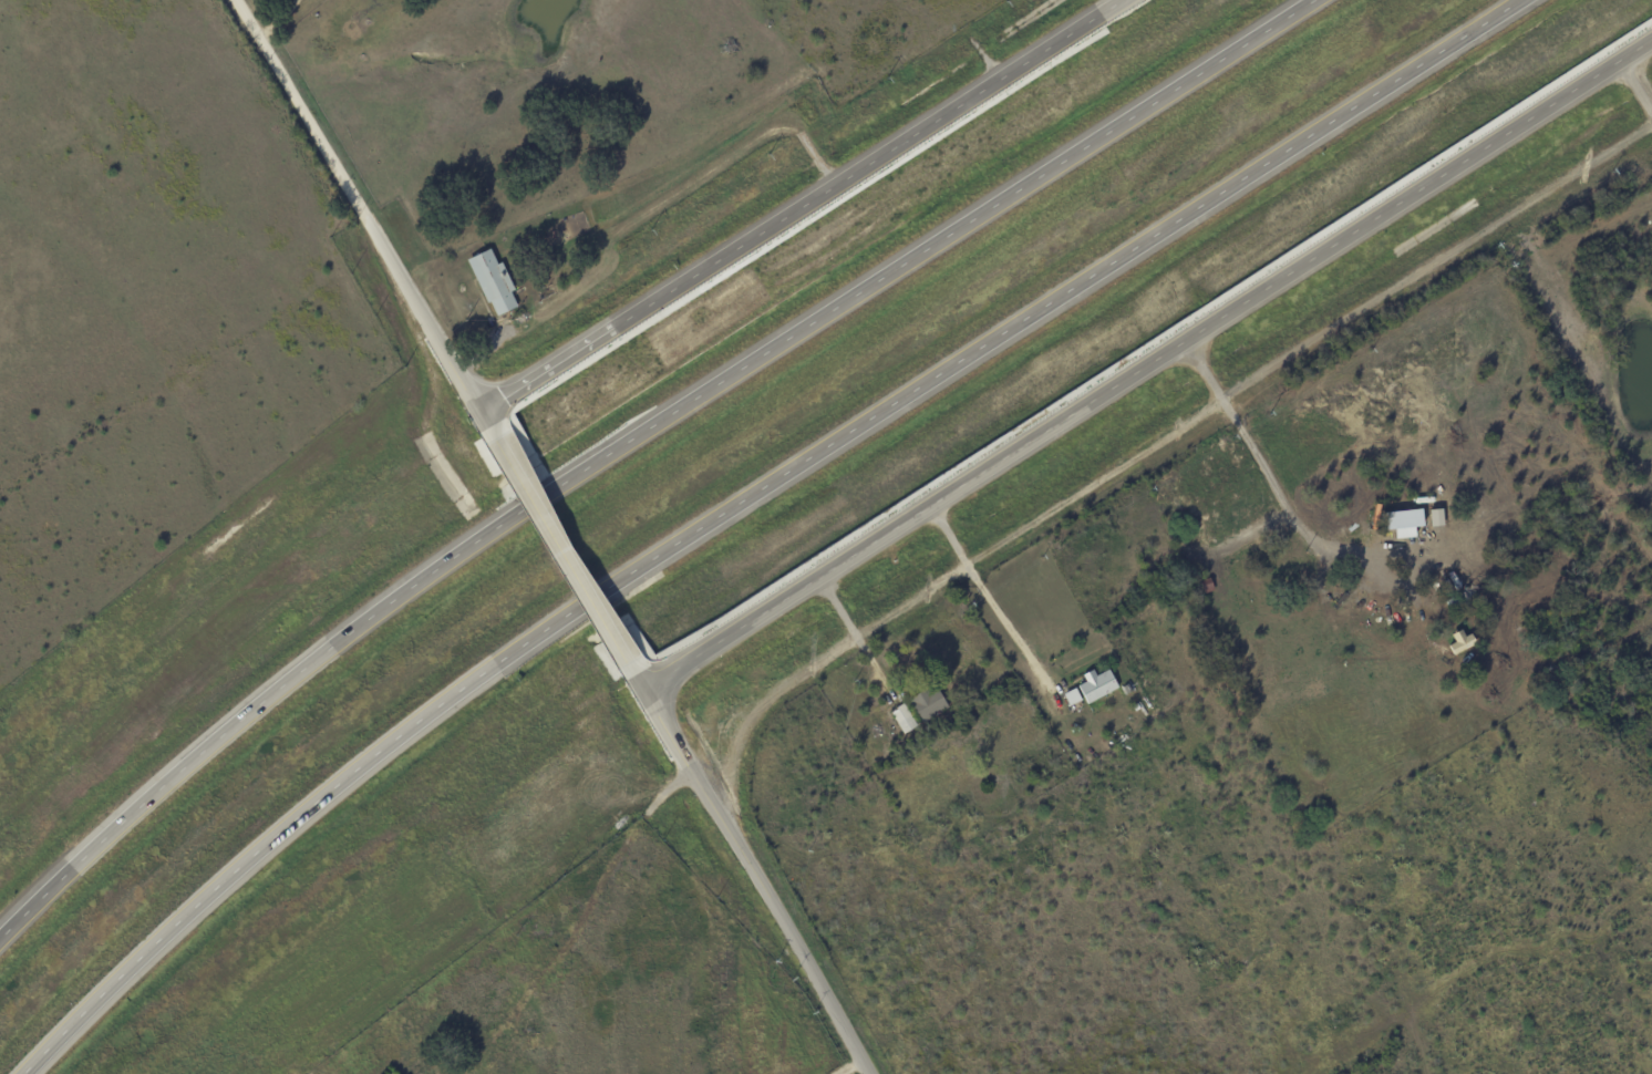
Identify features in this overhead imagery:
road: (275, 19)
road: (357, 204)
road: (797, 206)
road: (1468, 239)
building: (494, 281)
road: (1146, 363)
road: (485, 426)
road: (632, 437)
road: (1119, 462)
road: (1277, 490)
road: (748, 502)
building: (1436, 517)
building: (1404, 521)
road: (937, 540)
road: (560, 553)
road: (837, 606)
road: (995, 629)
building: (1463, 641)
road: (818, 662)
building: (1096, 684)
building: (1072, 696)
building: (928, 702)
building: (904, 717)
road: (680, 750)
road: (801, 954)
road: (847, 1067)

